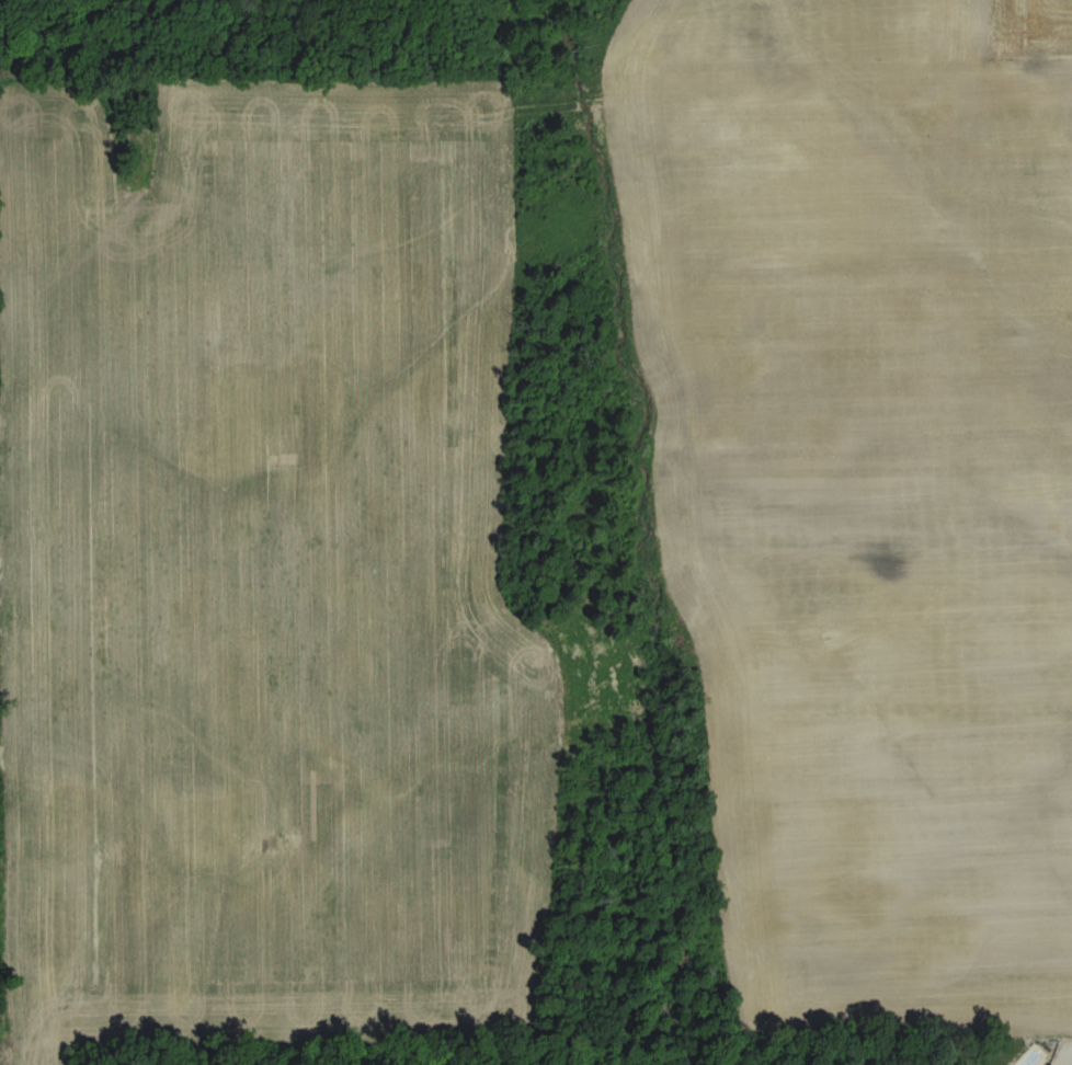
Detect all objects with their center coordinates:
road: (1068, 1060)
building: (1052, 1063)

